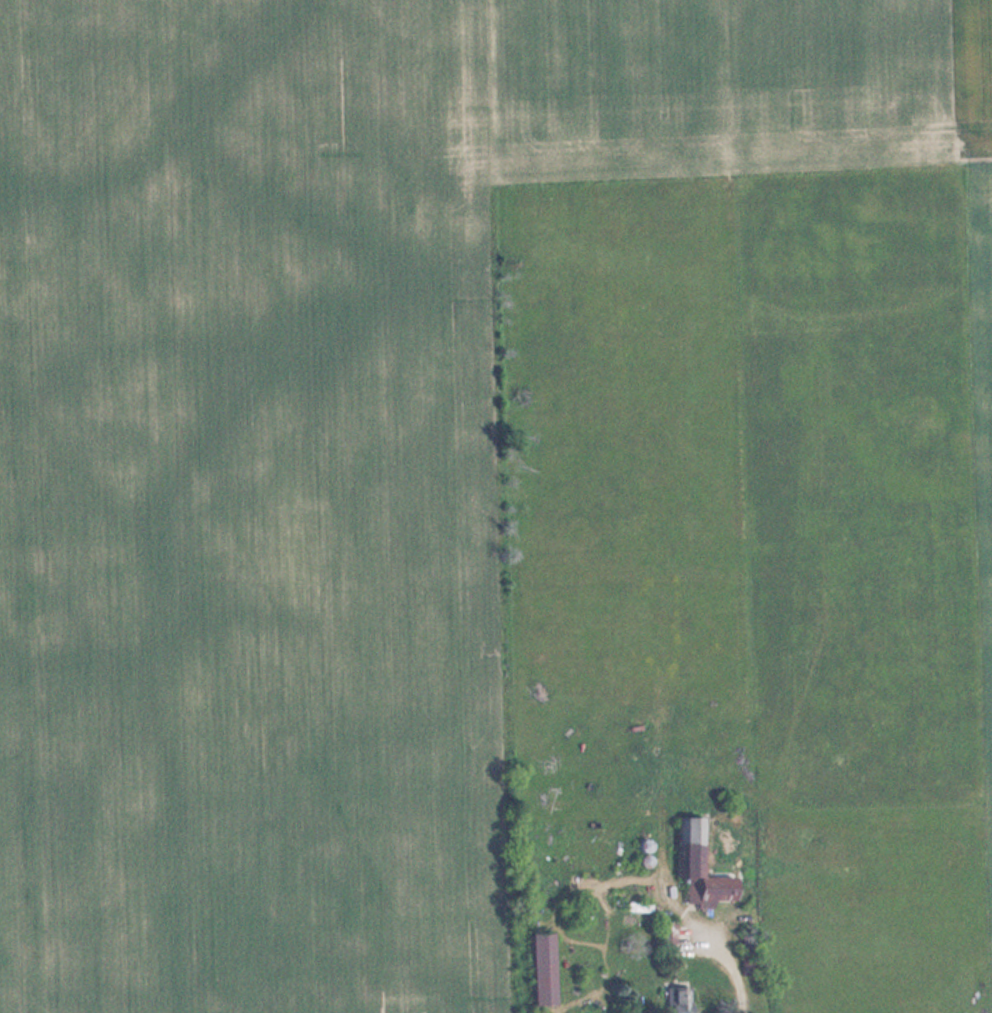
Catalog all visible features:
building: (703, 868)
building: (669, 931)
building: (750, 961)
building: (545, 968)
building: (681, 999)

